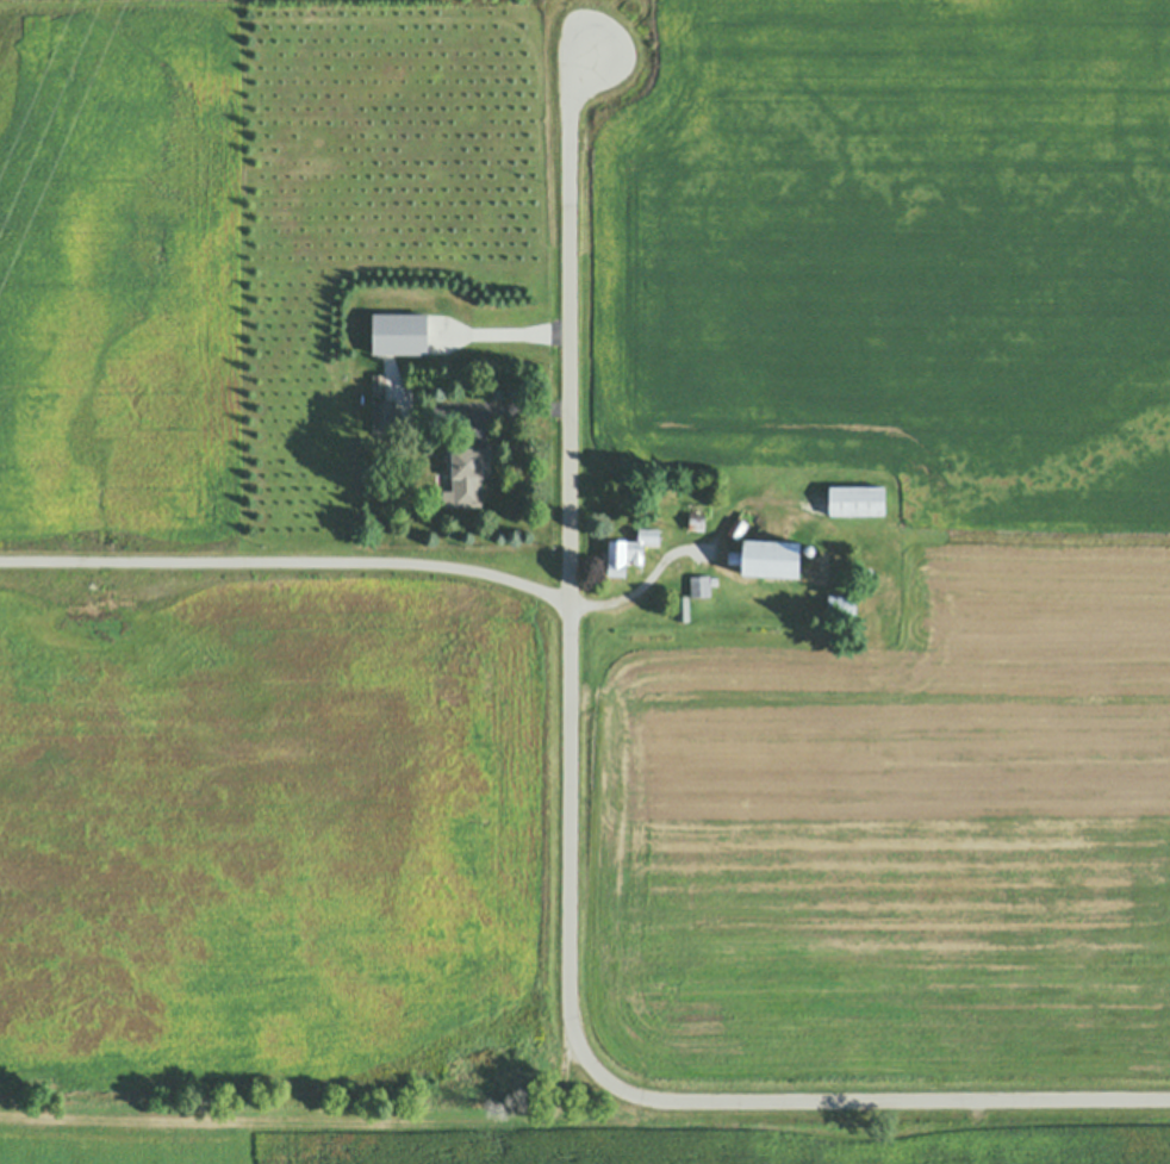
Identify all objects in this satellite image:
road: (505, 329)
building: (402, 334)
building: (380, 385)
building: (385, 417)
building: (467, 479)
building: (671, 484)
building: (859, 500)
building: (698, 516)
building: (741, 523)
building: (810, 549)
building: (628, 550)
building: (768, 558)
road: (288, 567)
building: (869, 572)
building: (702, 585)
building: (842, 604)
building: (683, 608)
road: (570, 857)

